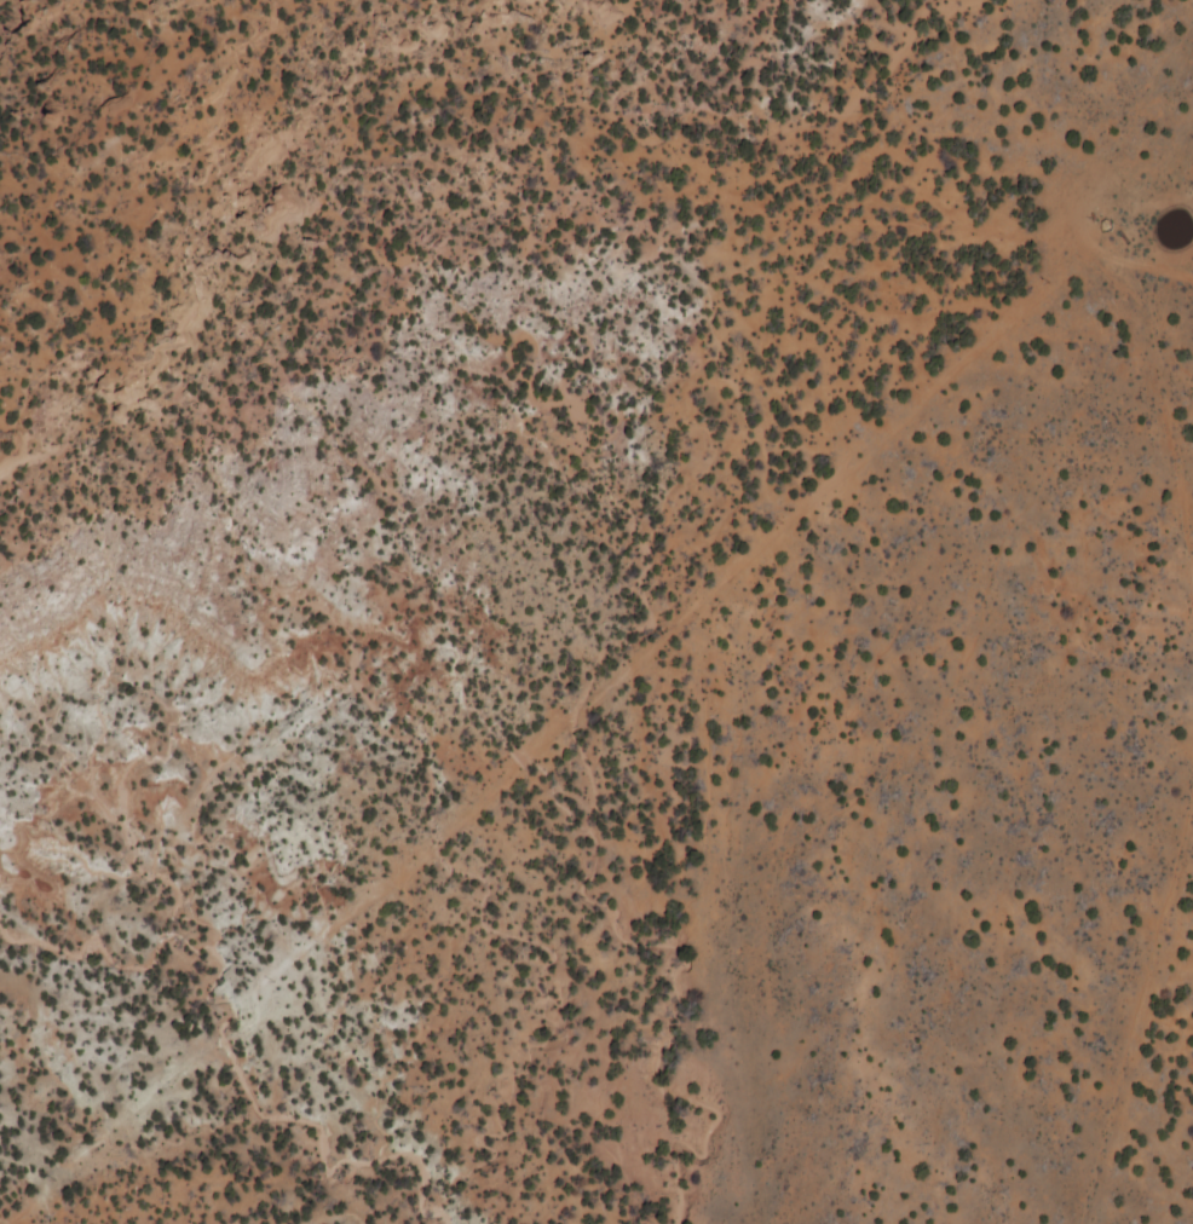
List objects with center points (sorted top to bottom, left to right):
road: (609, 623)

